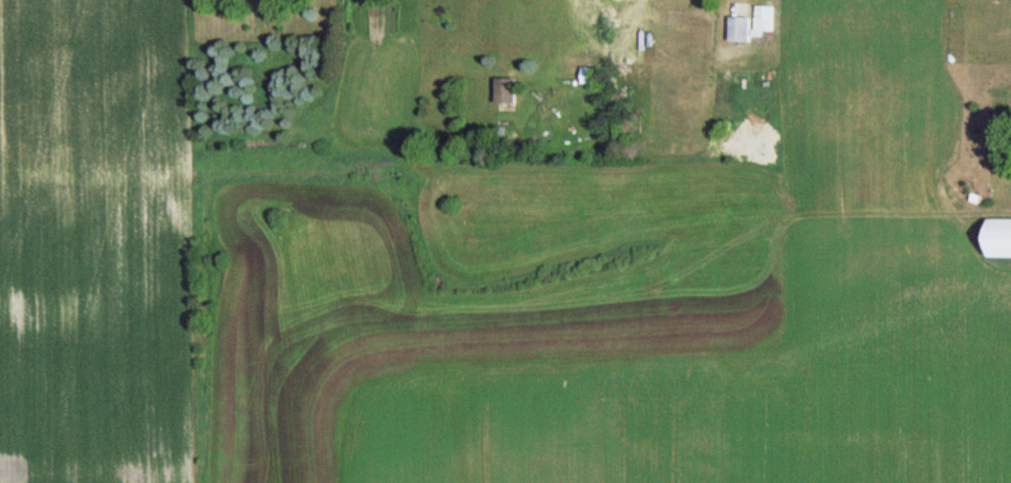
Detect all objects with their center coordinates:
building: (754, 23)
building: (593, 74)
building: (510, 90)
building: (1002, 238)

